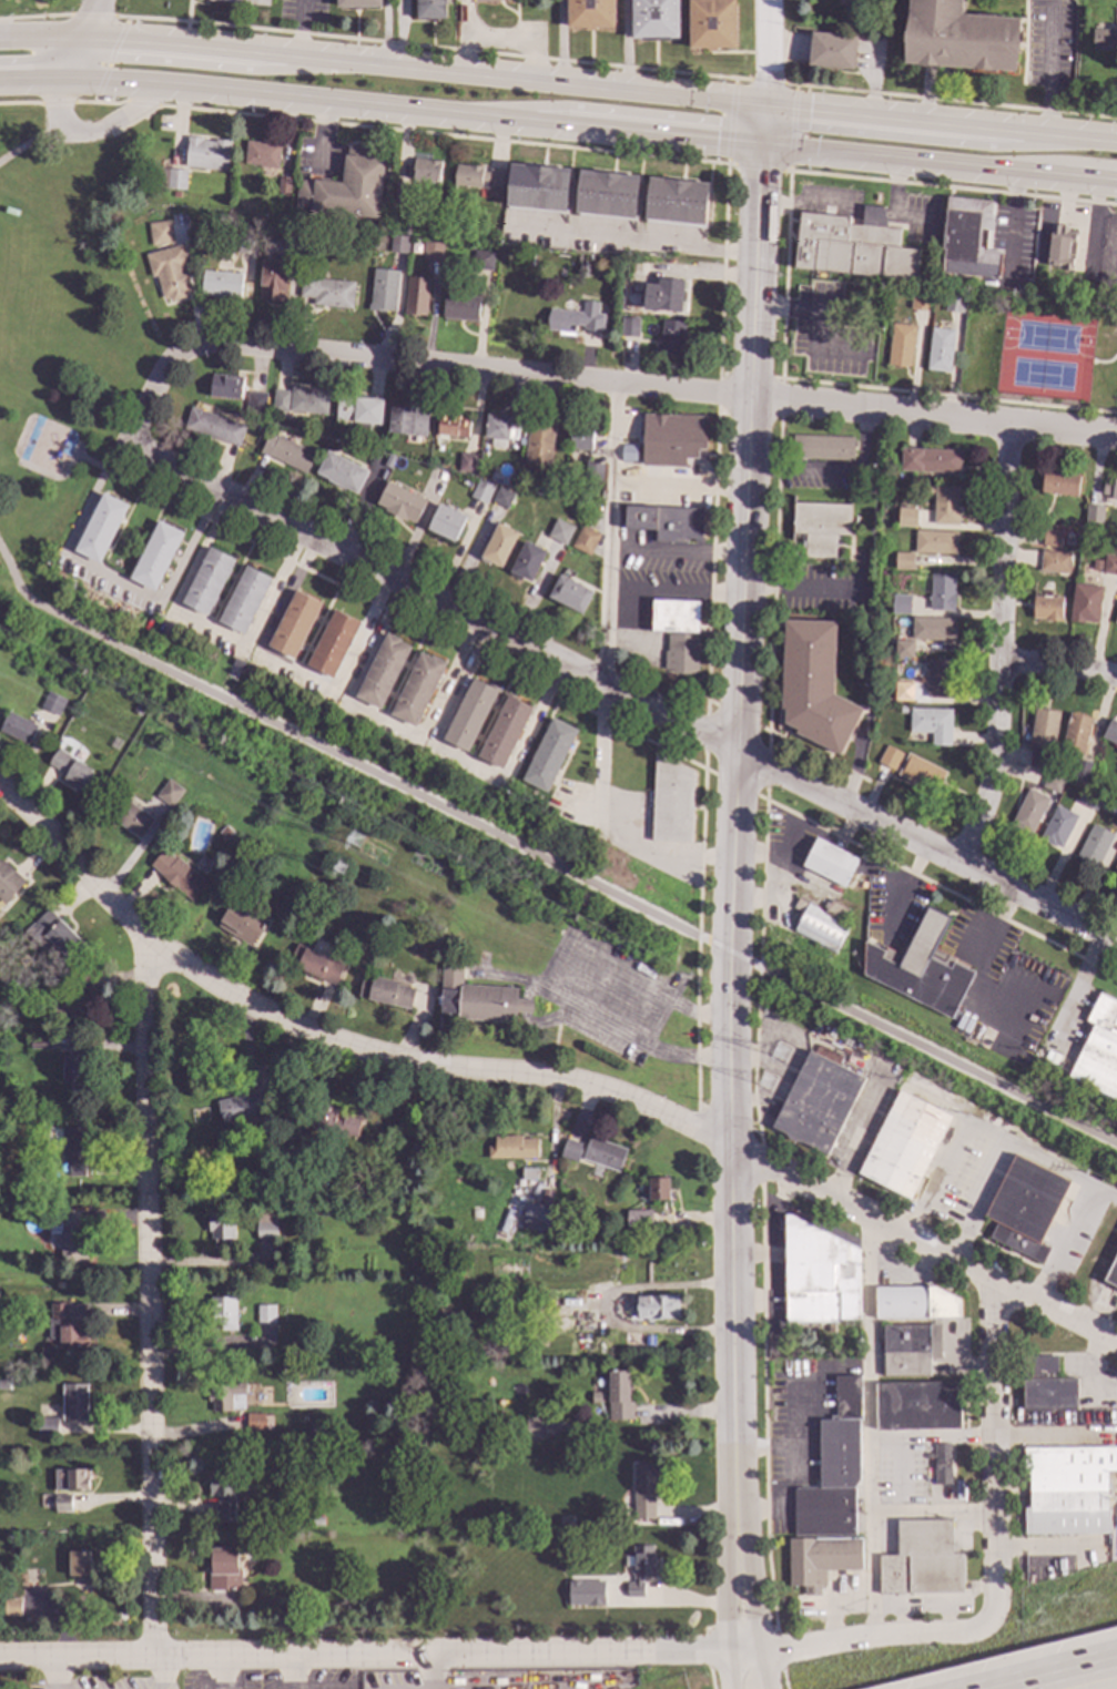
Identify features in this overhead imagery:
building: (469, 0)
building: (245, 2)
building: (357, 2)
building: (428, 9)
park: (39, 13)
building: (588, 13)
road: (34, 16)
road: (91, 16)
road: (90, 18)
building: (652, 20)
building: (710, 23)
road: (40, 35)
building: (957, 38)
building: (1111, 41)
road: (626, 44)
road: (430, 48)
building: (831, 51)
road: (766, 52)
road: (71, 57)
road: (111, 59)
road: (424, 68)
road: (1050, 72)
road: (30, 79)
road: (764, 81)
building: (103, 99)
road: (948, 100)
road: (57, 102)
road: (99, 102)
road: (21, 103)
road: (59, 103)
road: (142, 104)
traffic signals: (766, 105)
road: (413, 109)
road: (616, 111)
road: (116, 121)
road: (765, 124)
road: (941, 124)
road: (443, 134)
road: (921, 139)
road: (30, 142)
traffic signals: (764, 144)
building: (205, 151)
building: (261, 153)
road: (940, 162)
road: (756, 167)
building: (425, 169)
building: (476, 175)
building: (175, 176)
building: (282, 183)
building: (346, 186)
building: (537, 186)
road: (952, 187)
road: (894, 191)
building: (174, 192)
building: (402, 192)
building: (606, 192)
building: (676, 200)
road: (811, 207)
building: (10, 211)
road: (1012, 212)
road: (873, 214)
building: (159, 231)
building: (288, 235)
building: (966, 237)
building: (306, 241)
building: (245, 242)
building: (397, 243)
road: (637, 243)
building: (853, 245)
building: (1060, 245)
building: (430, 248)
building: (518, 256)
building: (481, 257)
building: (582, 268)
building: (169, 269)
road: (694, 274)
building: (272, 278)
building: (220, 282)
building: (325, 288)
building: (382, 288)
building: (415, 294)
building: (663, 294)
park: (69, 297)
building: (918, 298)
building: (953, 301)
building: (460, 305)
building: (577, 316)
building: (653, 324)
building: (628, 327)
building: (670, 336)
building: (898, 344)
building: (938, 348)
building: (225, 384)
road: (152, 388)
road: (658, 388)
building: (280, 398)
building: (308, 398)
building: (255, 403)
building: (359, 409)
building: (408, 419)
building: (213, 424)
building: (450, 424)
building: (498, 427)
building: (579, 435)
building: (671, 437)
building: (538, 440)
building: (821, 447)
building: (286, 450)
building: (388, 457)
building: (931, 459)
building: (465, 460)
building: (341, 470)
building: (591, 471)
building: (1058, 481)
road: (678, 484)
building: (480, 488)
building: (1110, 488)
building: (928, 490)
building: (501, 496)
building: (399, 500)
building: (945, 503)
building: (1093, 510)
building: (907, 517)
building: (444, 520)
building: (664, 520)
building: (100, 525)
building: (820, 525)
building: (559, 531)
building: (1052, 537)
building: (583, 538)
building: (935, 540)
building: (498, 542)
building: (1086, 543)
road: (674, 551)
building: (53, 553)
building: (154, 553)
building: (526, 559)
building: (903, 559)
building: (1055, 561)
building: (1095, 562)
building: (1109, 564)
road: (111, 578)
building: (206, 579)
road: (9, 582)
road: (795, 587)
road: (673, 590)
building: (942, 590)
building: (569, 592)
building: (242, 598)
building: (900, 602)
building: (1085, 602)
building: (1045, 608)
road: (606, 610)
building: (673, 614)
building: (1115, 615)
building: (292, 622)
building: (931, 627)
building: (331, 642)
road: (1001, 644)
building: (902, 648)
building: (679, 652)
building: (236, 663)
road: (1058, 665)
building: (380, 670)
building: (938, 678)
building: (812, 683)
building: (415, 686)
road: (621, 691)
building: (126, 698)
building: (51, 703)
building: (902, 709)
building: (468, 712)
building: (933, 723)
building: (17, 728)
building: (502, 730)
building: (1110, 732)
building: (1075, 733)
building: (1040, 736)
building: (65, 747)
building: (547, 753)
building: (887, 755)
road: (343, 756)
building: (1079, 767)
building: (72, 771)
building: (921, 772)
building: (1050, 782)
building: (166, 791)
building: (1089, 797)
building: (669, 800)
building: (1028, 810)
building: (129, 816)
building: (1116, 821)
building: (1056, 825)
building: (225, 832)
power tower: (356, 843)
building: (1093, 843)
building: (827, 861)
building: (1115, 864)
building: (1115, 868)
building: (175, 873)
power tower: (343, 873)
building: (8, 879)
building: (862, 884)
road: (908, 885)
road: (729, 895)
building: (240, 920)
building: (819, 924)
building: (52, 933)
building: (434, 937)
building: (450, 940)
road: (728, 952)
building: (314, 963)
building: (918, 967)
road: (978, 973)
building: (78, 977)
road: (1080, 981)
building: (383, 989)
building: (475, 996)
building: (68, 1006)
building: (37, 1042)
building: (1098, 1048)
road: (933, 1054)
power tower: (782, 1057)
building: (72, 1068)
road: (538, 1074)
power tower: (766, 1085)
building: (815, 1101)
building: (237, 1106)
building: (332, 1119)
road: (991, 1135)
building: (902, 1143)
building: (65, 1146)
building: (510, 1146)
building: (569, 1149)
building: (602, 1152)
building: (527, 1172)
building: (657, 1187)
road: (978, 1199)
building: (1023, 1207)
building: (485, 1212)
building: (536, 1215)
building: (637, 1219)
building: (265, 1225)
building: (219, 1228)
building: (65, 1233)
road: (1063, 1242)
building: (307, 1248)
building: (1111, 1272)
building: (816, 1273)
building: (69, 1286)
road: (149, 1300)
building: (914, 1302)
building: (653, 1306)
building: (221, 1311)
building: (264, 1313)
building: (302, 1321)
building: (62, 1326)
building: (910, 1347)
road: (1087, 1369)
building: (3, 1384)
building: (1044, 1384)
building: (226, 1395)
building: (619, 1395)
building: (596, 1396)
building: (845, 1397)
building: (72, 1402)
building: (916, 1404)
building: (256, 1421)
road: (869, 1424)
building: (43, 1425)
building: (313, 1425)
building: (535, 1428)
road: (1038, 1434)
building: (837, 1453)
building: (927, 1454)
road: (996, 1456)
building: (941, 1463)
building: (69, 1478)
building: (928, 1479)
building: (1065, 1488)
building: (642, 1490)
building: (223, 1492)
building: (61, 1500)
building: (823, 1510)
building: (315, 1519)
building: (565, 1522)
road: (1046, 1545)
building: (820, 1559)
building: (921, 1559)
building: (78, 1566)
building: (639, 1567)
building: (222, 1568)
building: (585, 1593)
building: (245, 1600)
building: (12, 1606)
building: (27, 1619)
road: (740, 1628)
road: (487, 1650)
road: (734, 1667)
road: (751, 1668)
road: (425, 1669)
road: (221, 1671)
road: (290, 1671)
road: (51, 1672)
road: (161, 1672)
road: (1054, 1673)

